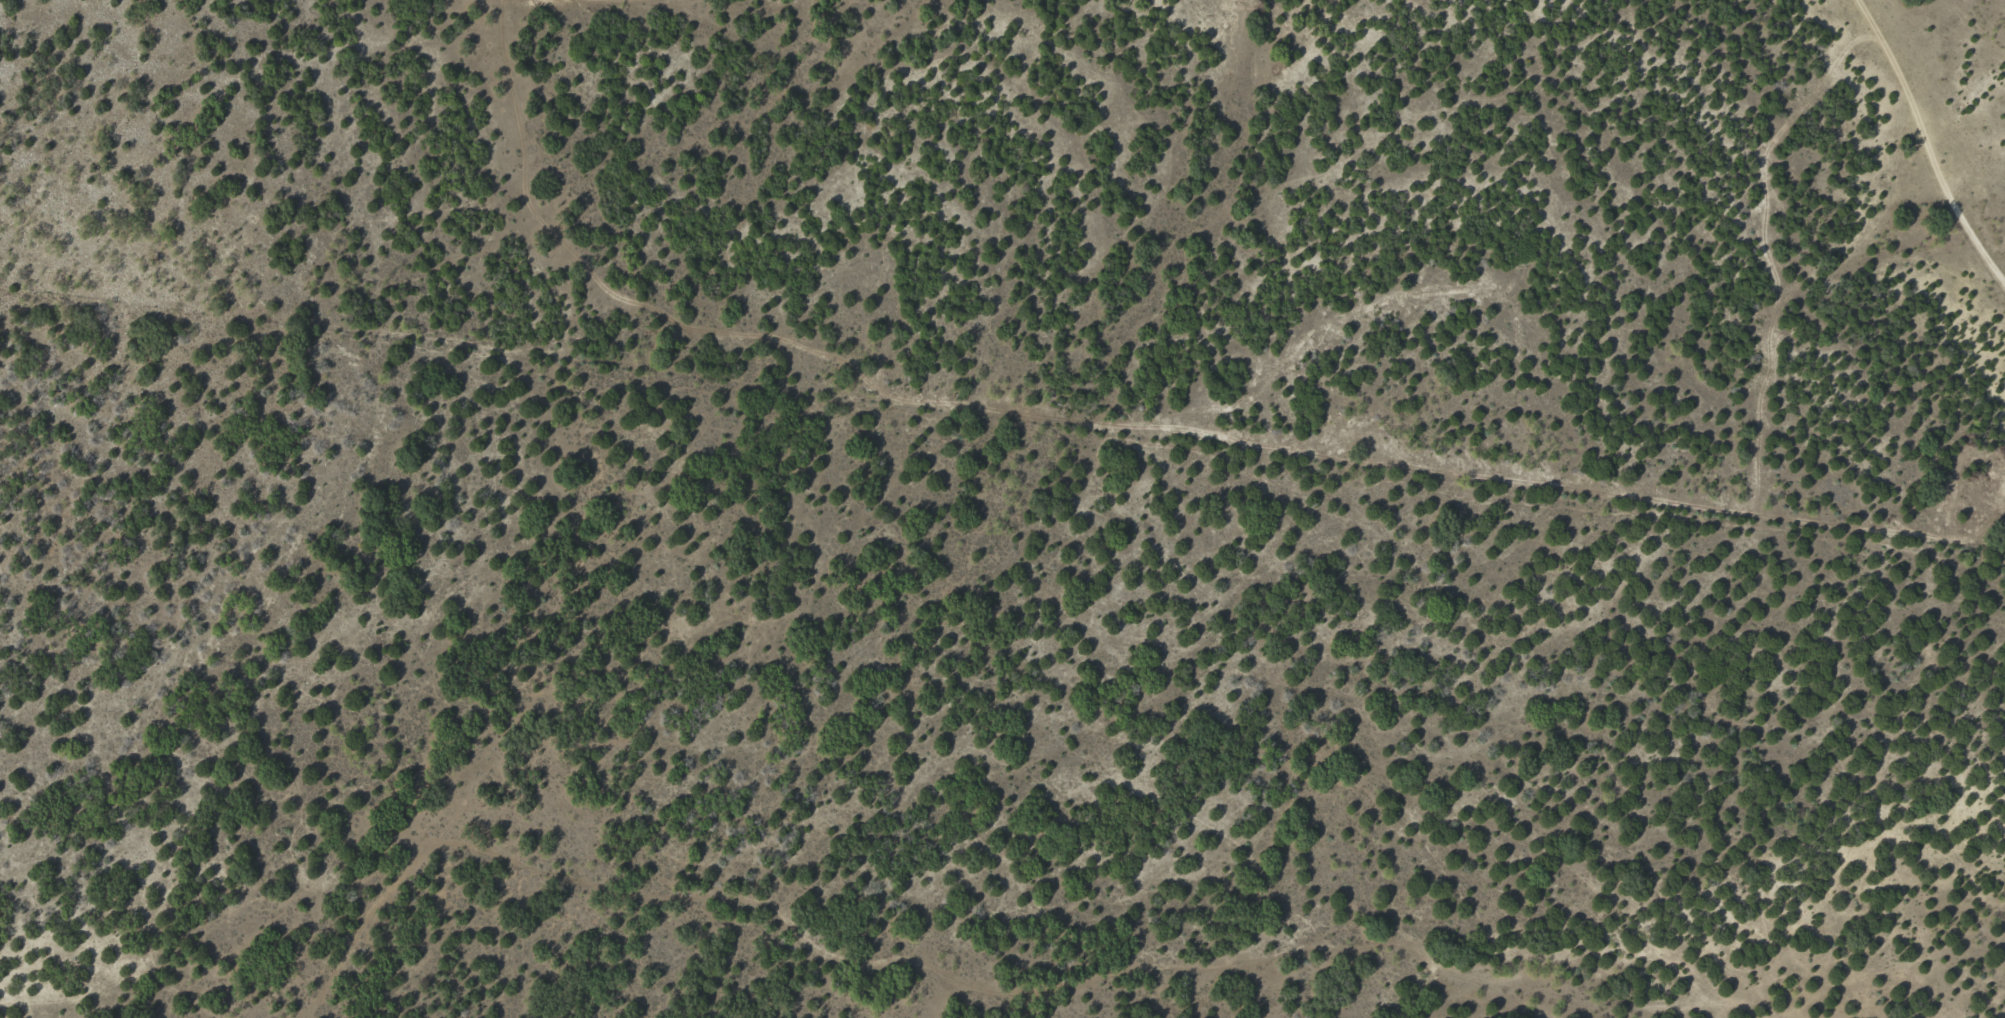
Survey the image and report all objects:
road: (91, 996)

